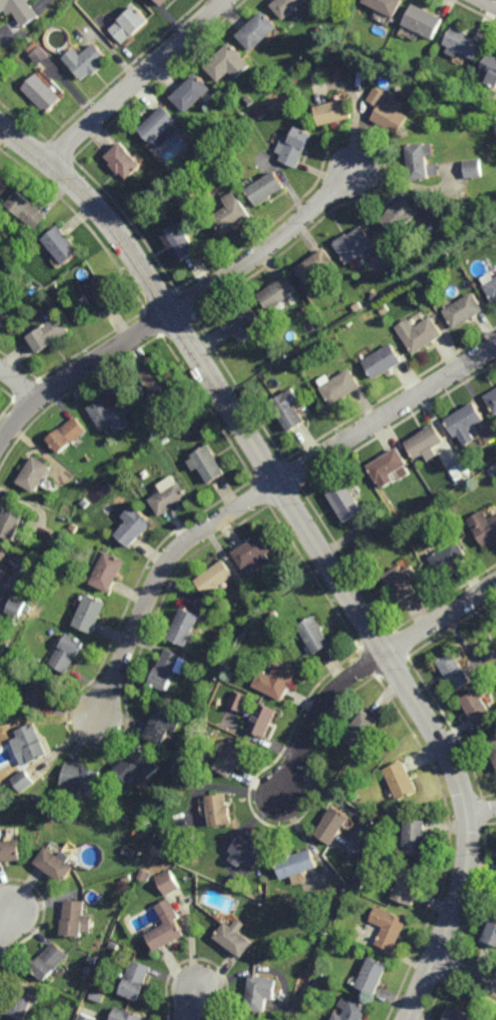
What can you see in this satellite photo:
building: (162, 1)
road: (491, 1)
road: (42, 4)
building: (386, 5)
building: (284, 6)
building: (20, 8)
road: (28, 15)
building: (423, 18)
building: (129, 22)
road: (9, 27)
building: (257, 28)
building: (320, 29)
building: (462, 41)
building: (32, 44)
building: (20, 53)
building: (35, 55)
building: (86, 58)
building: (227, 60)
building: (288, 67)
building: (490, 67)
building: (294, 74)
road: (138, 82)
building: (270, 82)
building: (42, 90)
building: (191, 90)
building: (248, 99)
building: (387, 109)
building: (333, 110)
building: (259, 112)
building: (159, 123)
building: (216, 124)
building: (295, 145)
building: (124, 158)
building: (419, 161)
building: (473, 167)
building: (4, 183)
building: (265, 186)
building: (27, 208)
building: (232, 211)
building: (4, 212)
building: (399, 214)
building: (446, 234)
building: (182, 241)
building: (354, 243)
building: (63, 244)
road: (272, 246)
building: (408, 259)
building: (31, 264)
building: (316, 265)
building: (12, 271)
building: (26, 280)
building: (490, 285)
building: (56, 287)
building: (279, 293)
building: (101, 294)
building: (0, 296)
building: (357, 305)
building: (384, 308)
building: (463, 310)
building: (244, 320)
building: (48, 333)
building: (419, 333)
building: (382, 360)
road: (80, 370)
road: (18, 381)
building: (341, 386)
building: (160, 388)
building: (492, 398)
building: (288, 409)
building: (110, 413)
road: (387, 413)
building: (466, 422)
building: (67, 434)
building: (164, 439)
building: (426, 441)
building: (144, 442)
building: (207, 463)
building: (388, 467)
building: (34, 474)
building: (459, 474)
building: (169, 496)
building: (442, 501)
building: (85, 502)
building: (345, 502)
building: (10, 523)
building: (73, 526)
building: (484, 527)
building: (134, 528)
building: (397, 531)
road: (315, 542)
building: (254, 552)
building: (2, 555)
building: (449, 557)
building: (44, 564)
building: (108, 572)
road: (157, 577)
building: (214, 578)
building: (401, 582)
building: (15, 606)
building: (90, 613)
road: (440, 618)
building: (256, 623)
building: (183, 626)
building: (314, 634)
building: (493, 637)
building: (22, 651)
building: (67, 651)
building: (223, 658)
building: (228, 666)
building: (166, 667)
building: (454, 669)
building: (275, 678)
building: (38, 692)
building: (238, 698)
building: (478, 707)
building: (200, 714)
road: (316, 715)
building: (261, 718)
building: (162, 723)
building: (361, 729)
building: (30, 742)
building: (492, 745)
building: (232, 756)
building: (137, 764)
building: (176, 767)
building: (188, 768)
building: (78, 778)
building: (401, 779)
building: (23, 780)
building: (356, 796)
building: (38, 798)
building: (219, 808)
road: (482, 811)
building: (50, 815)
building: (385, 823)
building: (333, 824)
building: (415, 836)
building: (9, 850)
building: (247, 851)
building: (296, 863)
building: (54, 864)
building: (144, 874)
building: (127, 878)
building: (168, 882)
building: (406, 882)
building: (360, 883)
building: (229, 892)
building: (75, 918)
building: (328, 923)
building: (167, 926)
road: (6, 927)
building: (388, 927)
building: (491, 930)
building: (234, 939)
building: (293, 939)
building: (93, 959)
building: (49, 961)
building: (321, 971)
road: (465, 972)
building: (372, 975)
building: (135, 980)
building: (316, 982)
building: (260, 992)
building: (98, 996)
building: (20, 1001)
road: (190, 1005)
building: (353, 1011)
building: (457, 1014)
building: (126, 1015)
building: (86, 1017)

